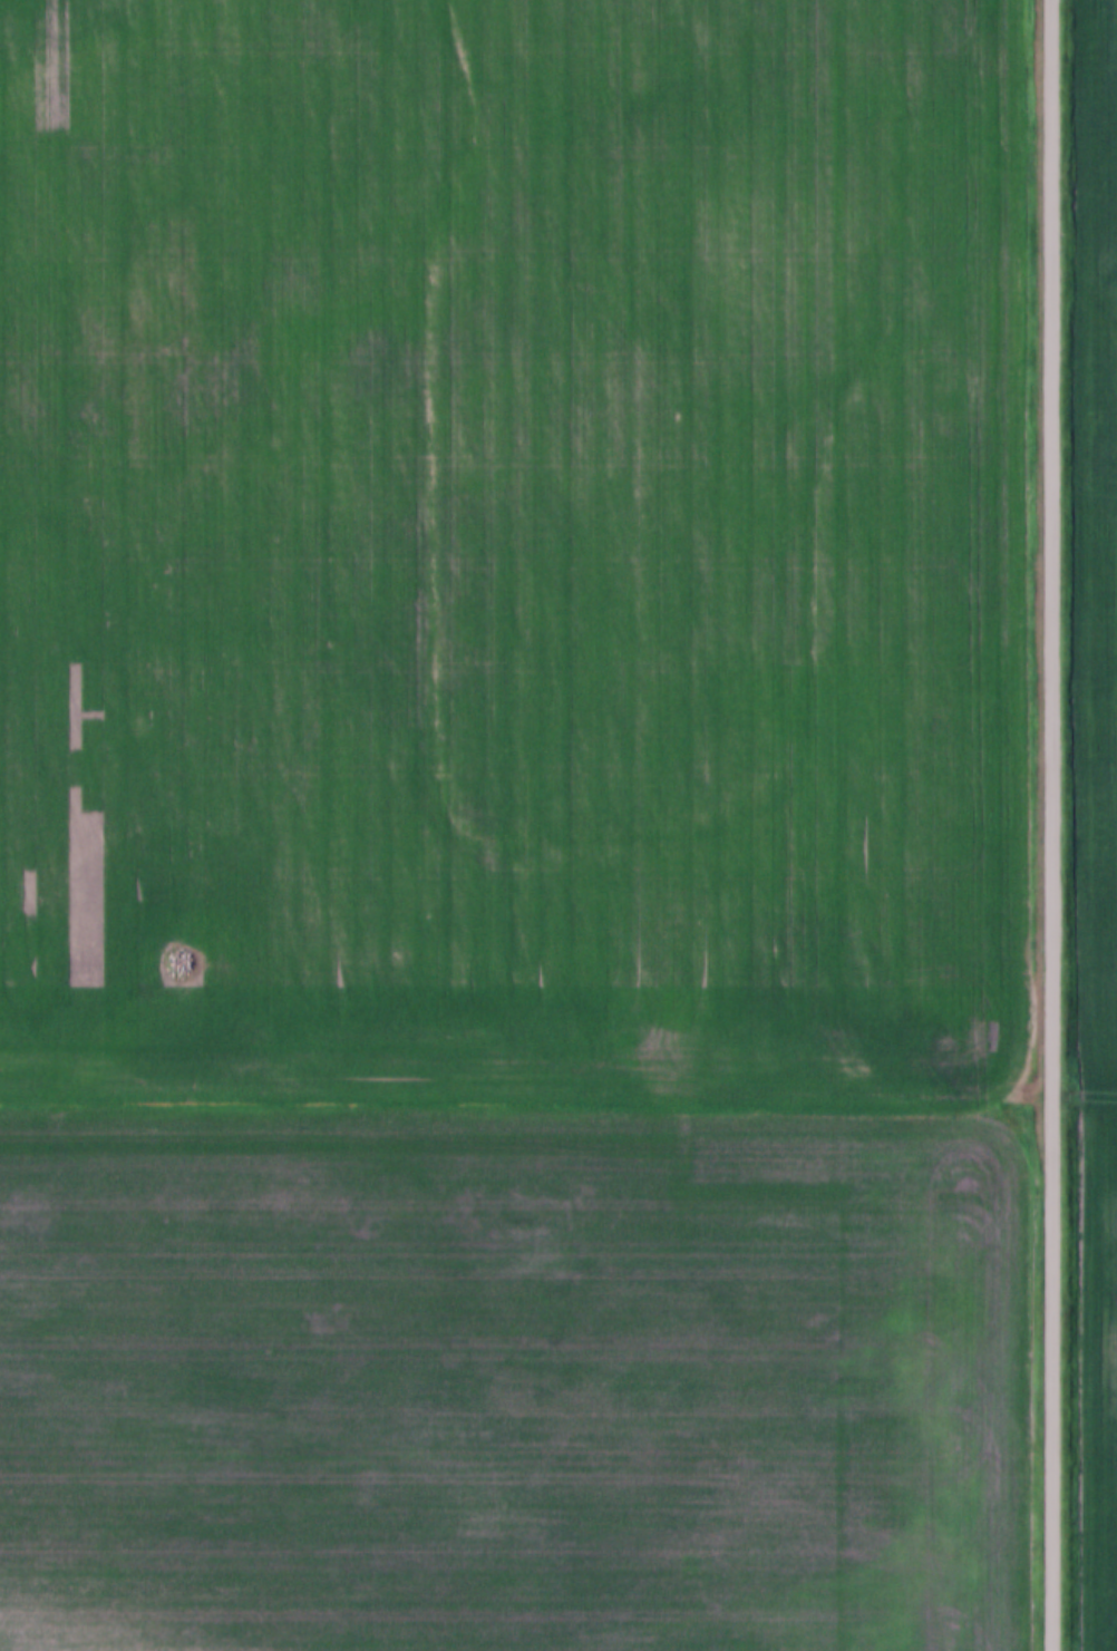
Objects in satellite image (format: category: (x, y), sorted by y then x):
road: (1057, 825)

